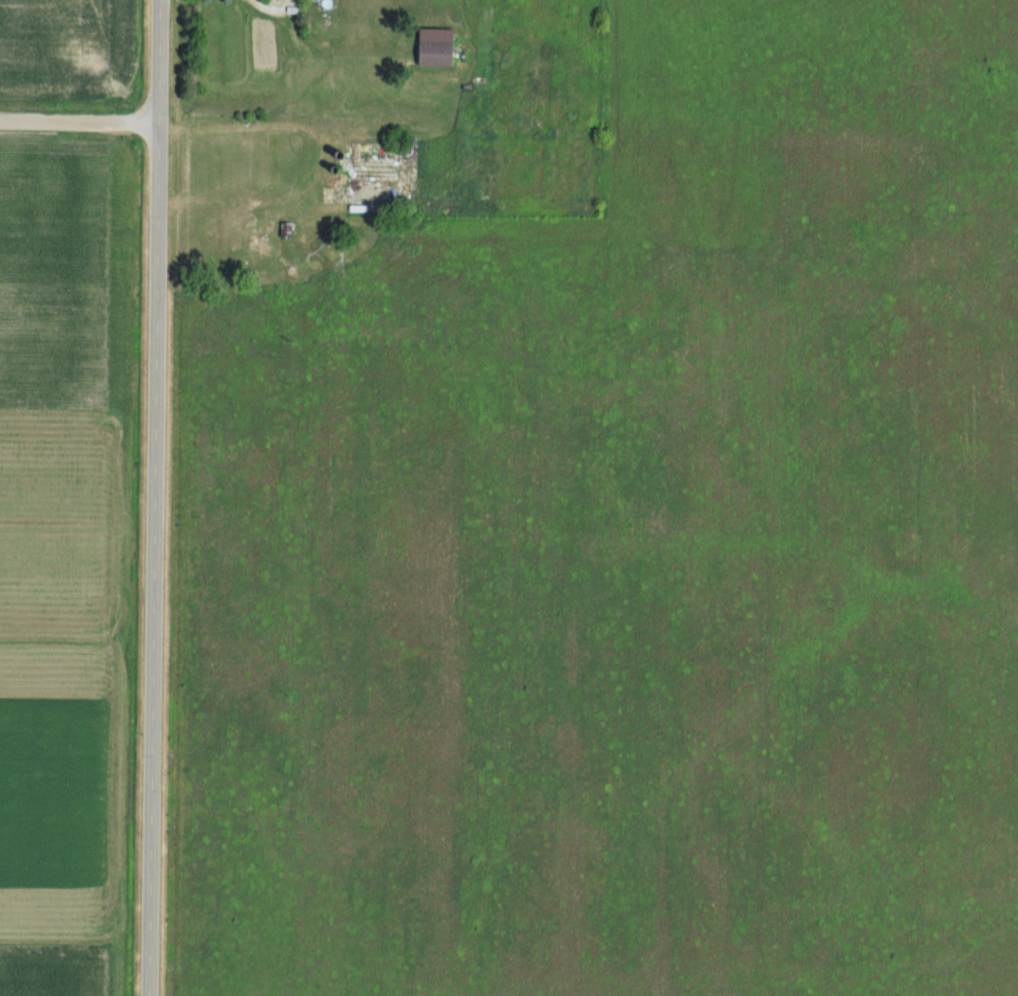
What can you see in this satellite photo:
building: (428, 47)
road: (79, 124)
building: (269, 141)
road: (154, 498)

